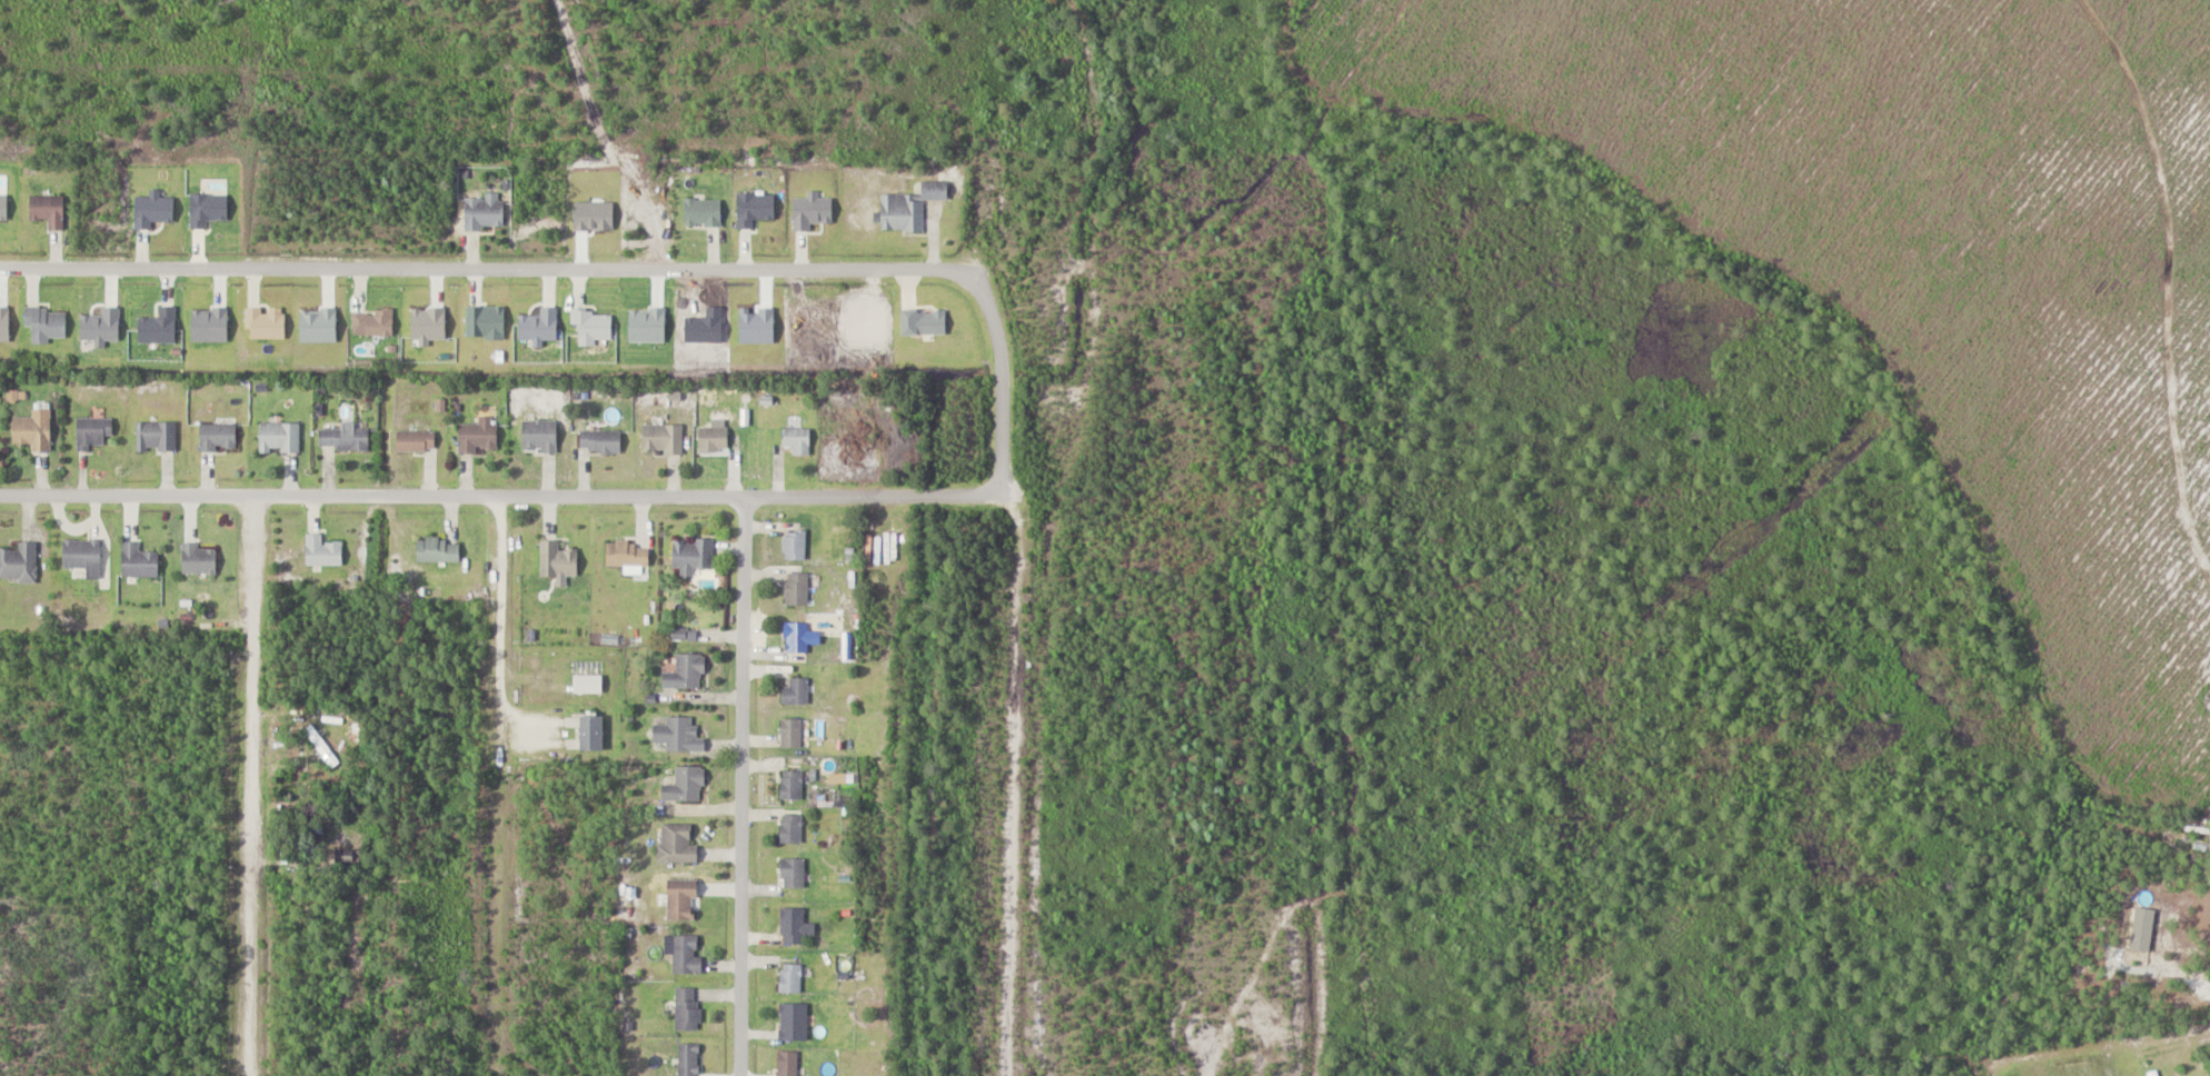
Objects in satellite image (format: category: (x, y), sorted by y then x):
building: (910, 207)
building: (49, 210)
building: (485, 211)
road: (488, 270)
road: (2171, 285)
building: (47, 325)
road: (999, 382)
building: (34, 430)
building: (94, 432)
building: (157, 436)
building: (480, 436)
building: (540, 436)
building: (219, 437)
building: (280, 437)
building: (345, 438)
building: (664, 439)
building: (714, 440)
building: (417, 441)
building: (601, 441)
building: (798, 441)
road: (502, 495)
building: (796, 546)
building: (323, 551)
building: (439, 551)
building: (629, 555)
building: (694, 556)
building: (83, 557)
building: (199, 559)
building: (558, 560)
road: (747, 560)
building: (140, 561)
building: (19, 562)
building: (798, 589)
building: (797, 637)
building: (686, 672)
building: (795, 691)
building: (790, 733)
building: (677, 735)
building: (792, 784)
road: (257, 785)
road: (499, 785)
building: (685, 785)
building: (790, 827)
building: (676, 841)
road: (747, 850)
building: (793, 871)
building: (680, 899)
building: (793, 925)
building: (684, 952)
road: (2177, 976)
building: (792, 977)
building: (688, 1008)
building: (794, 1020)
building: (688, 1059)
building: (787, 1063)
building: (2153, 1073)

